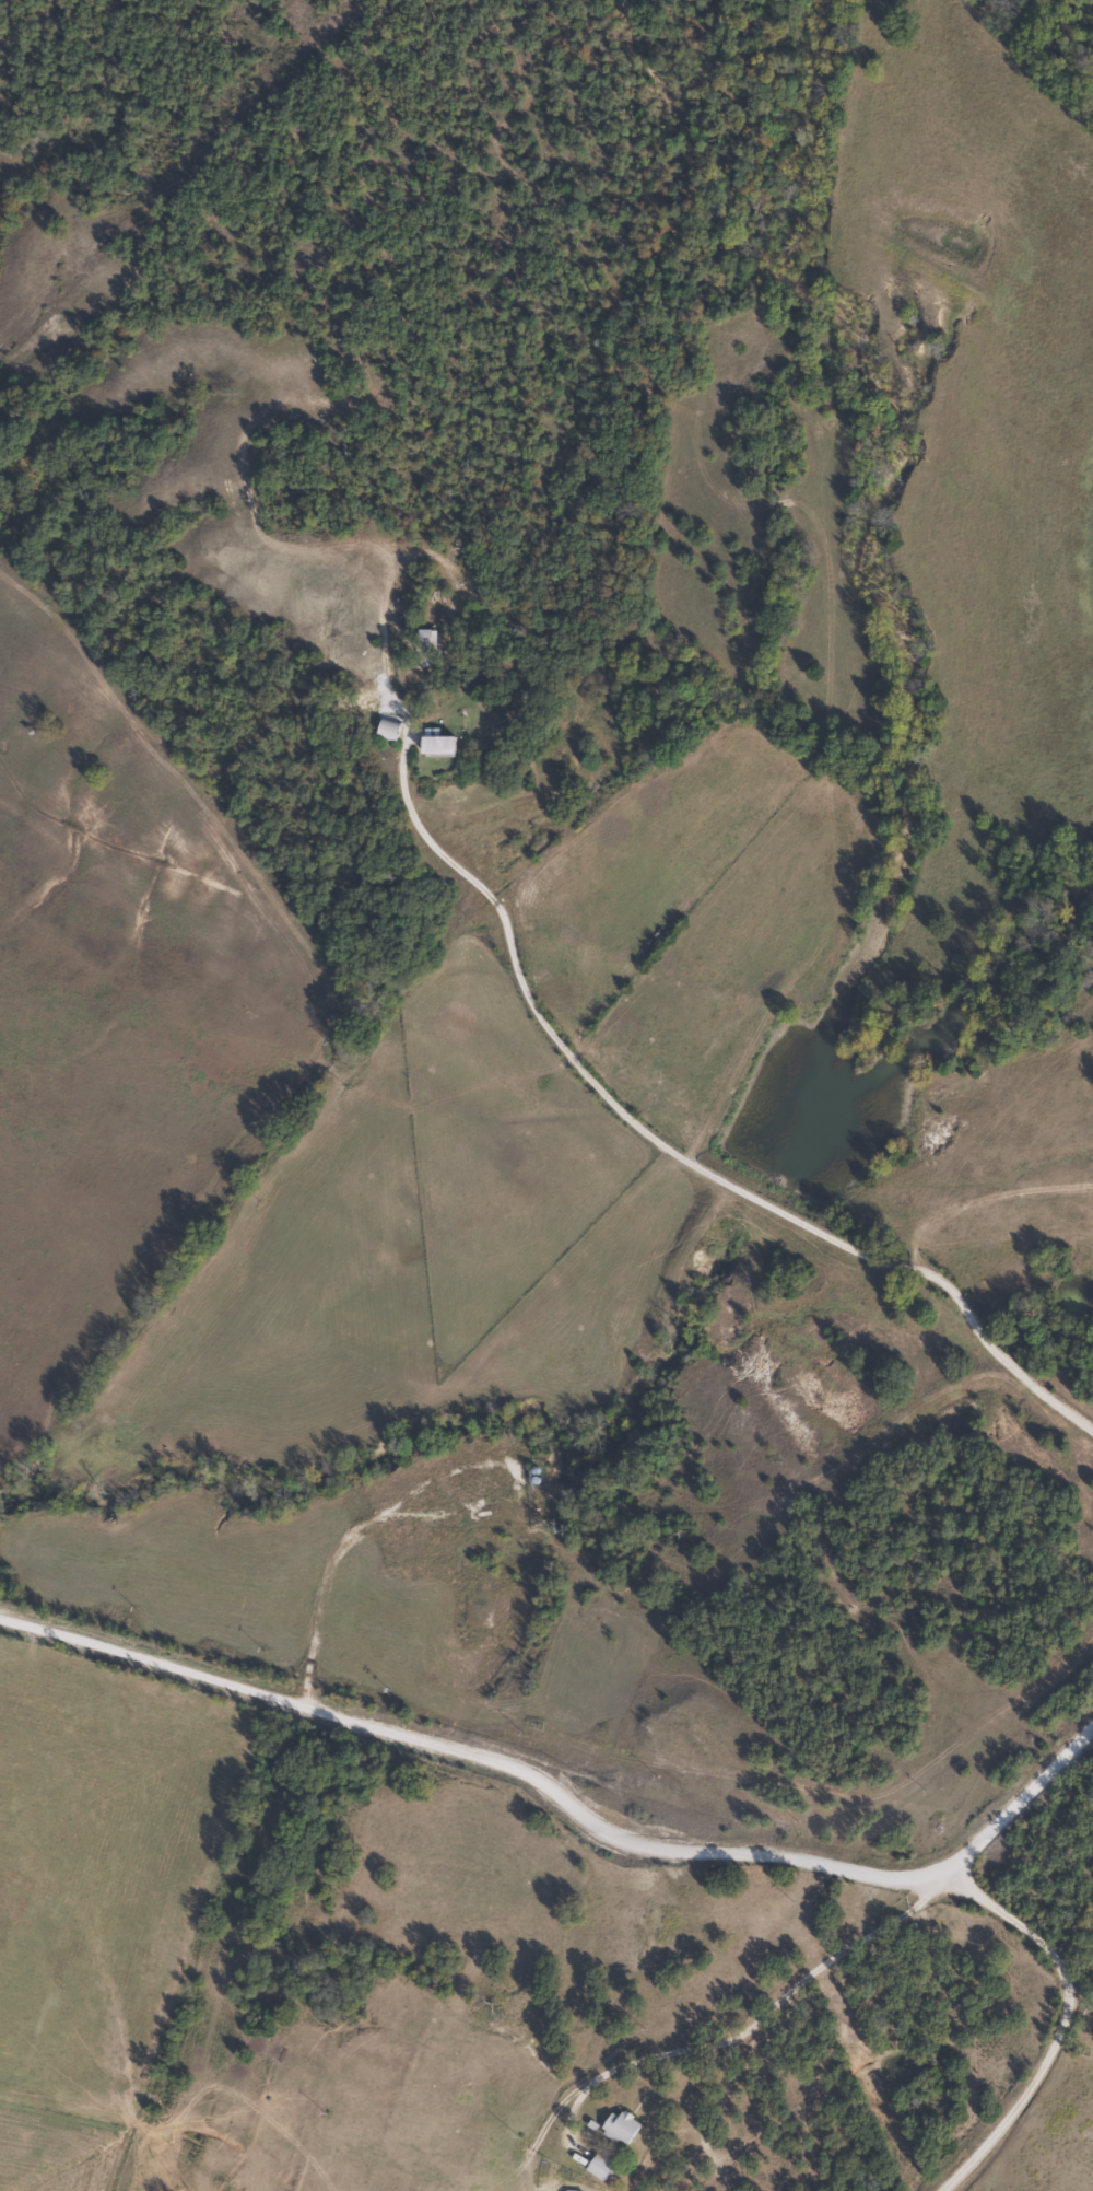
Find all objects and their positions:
building: (433, 641)
building: (397, 732)
building: (454, 747)
road: (569, 1807)
road: (797, 1982)
road: (1045, 2023)
building: (616, 2129)
building: (598, 2168)

